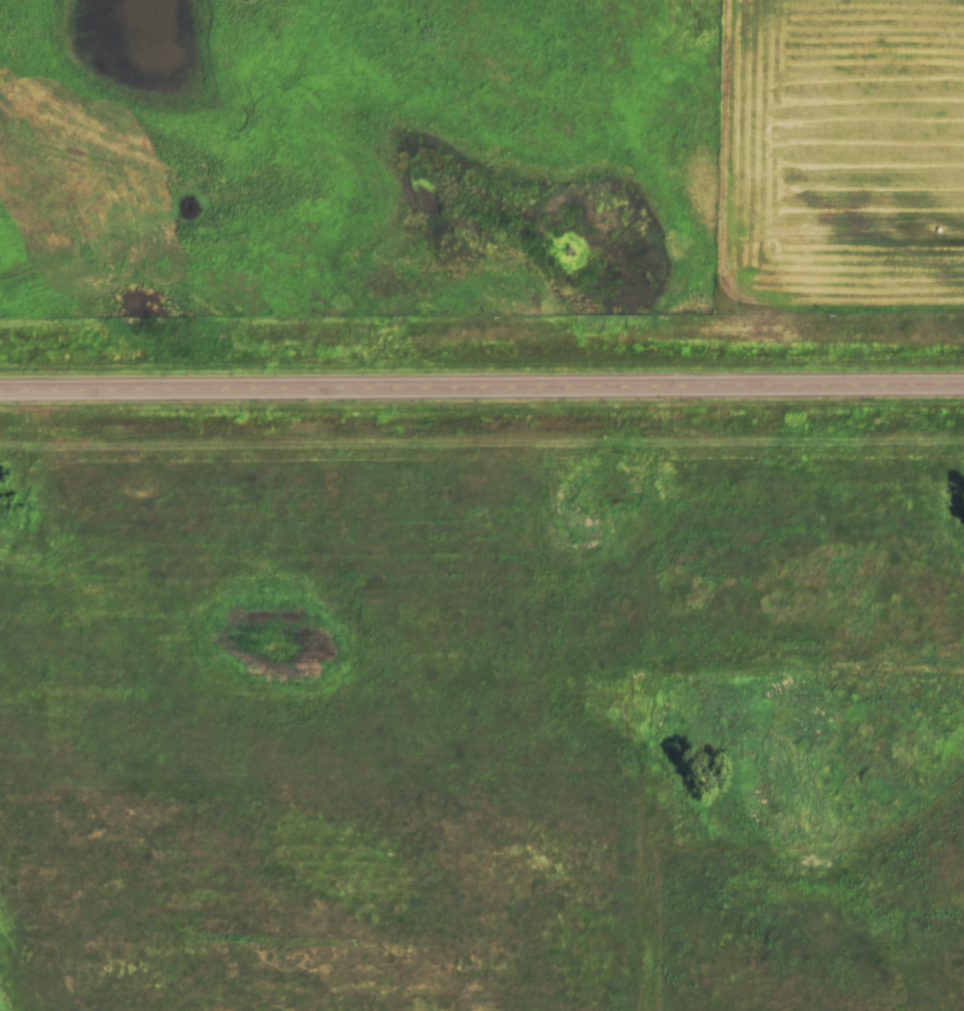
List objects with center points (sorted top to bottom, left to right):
road: (482, 357)

